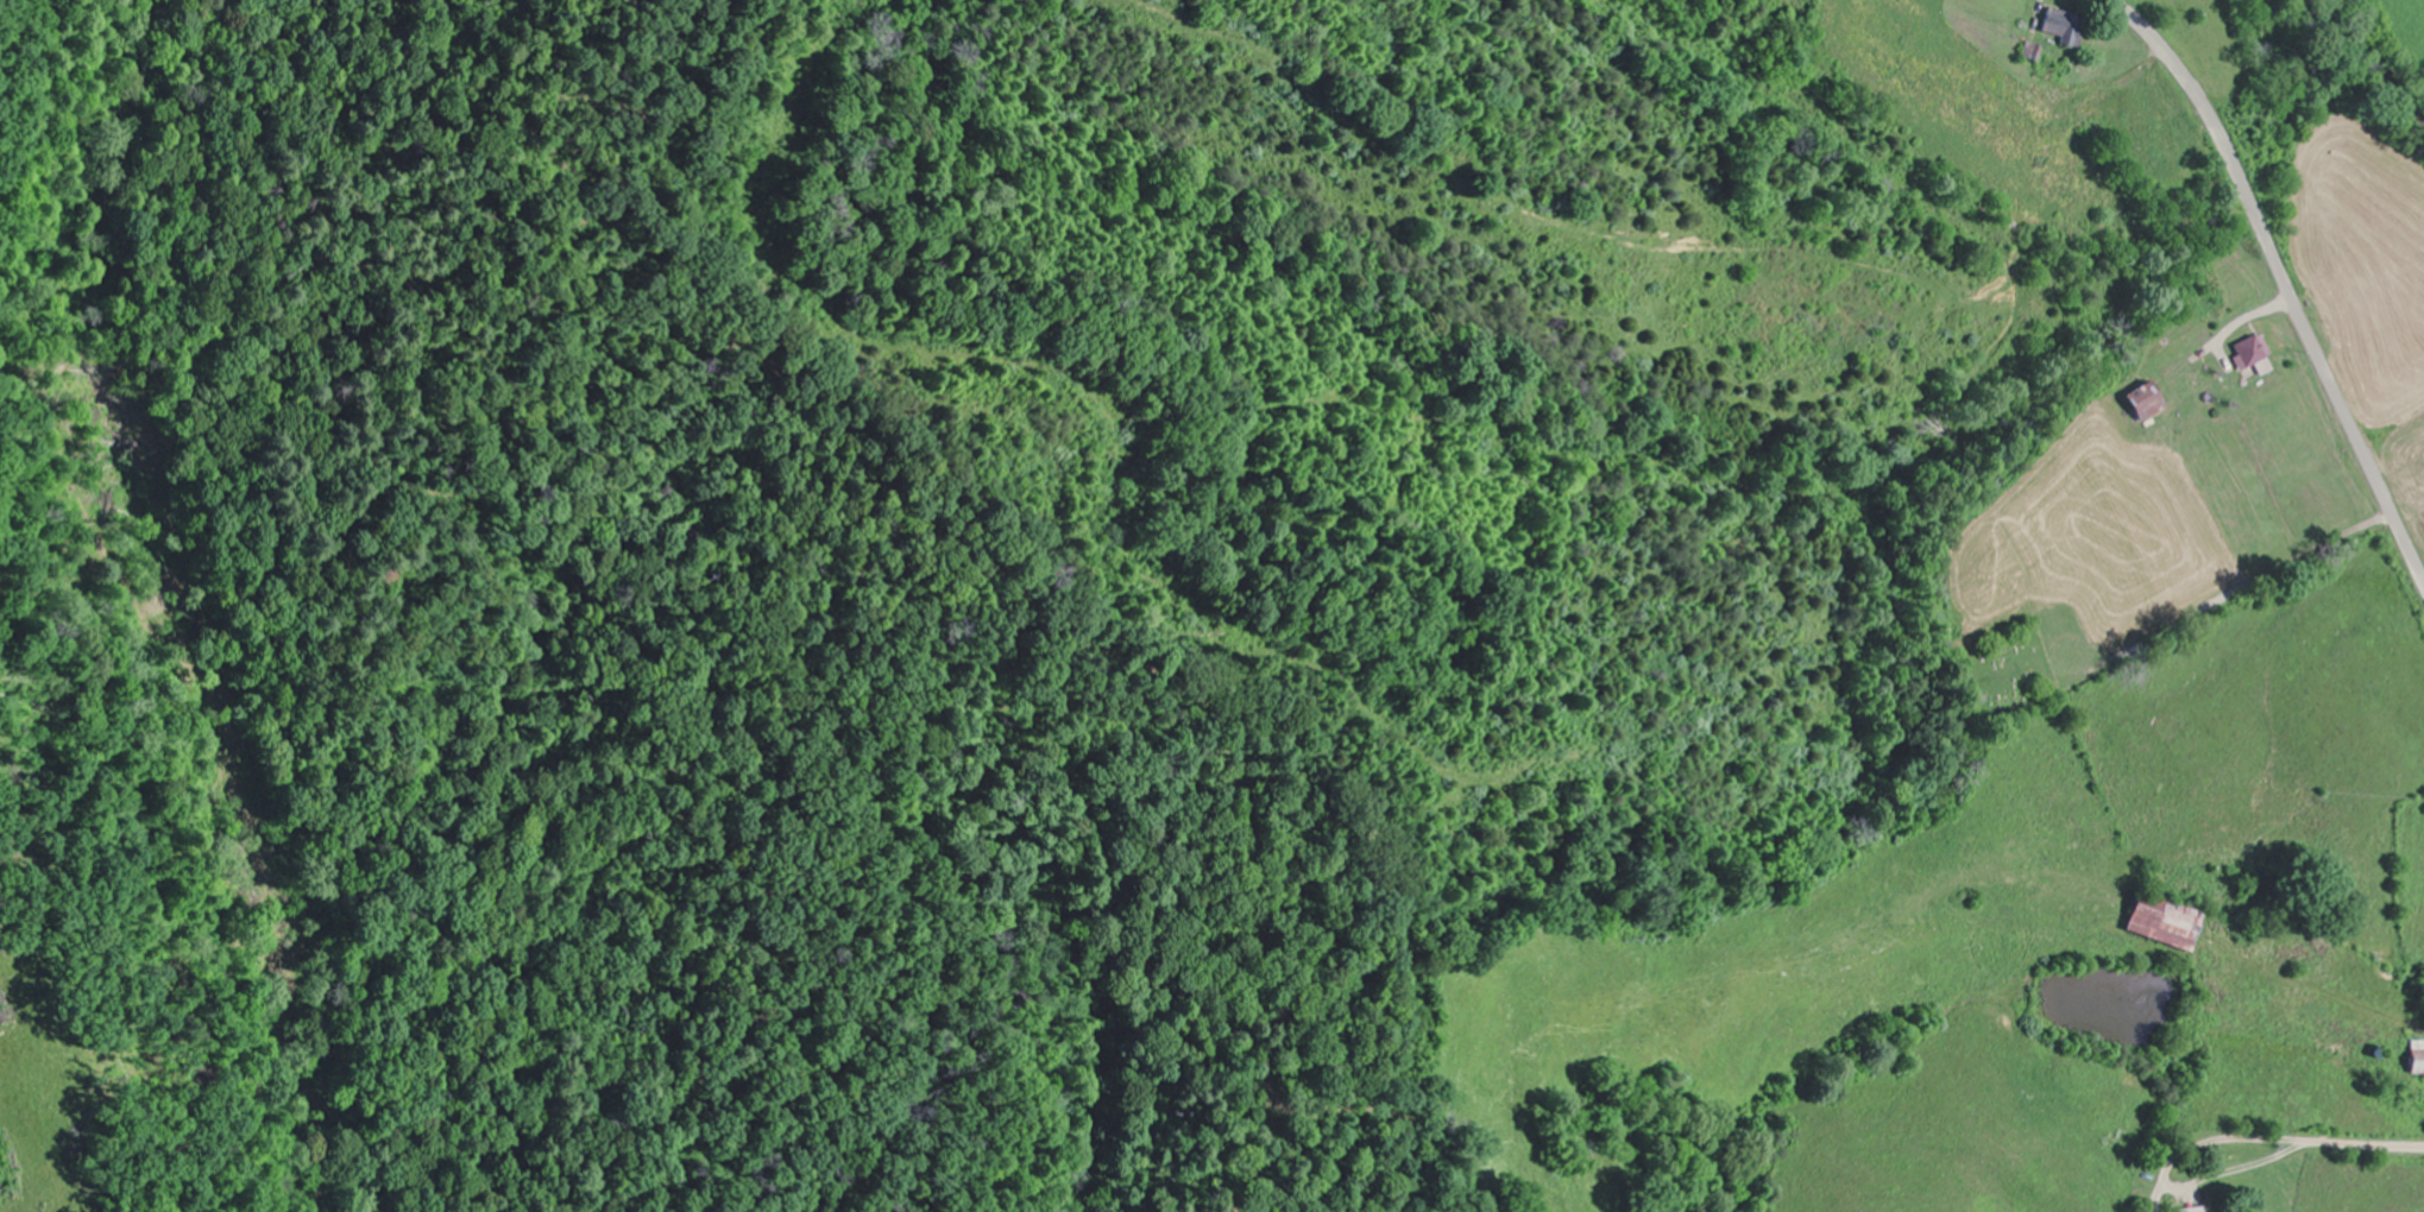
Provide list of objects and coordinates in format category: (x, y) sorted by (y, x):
building: (2059, 29)
river: (2355, 63)
road: (2284, 278)
building: (2250, 355)
building: (2141, 403)
building: (2158, 923)
building: (2416, 1059)
building: (2192, 1211)

